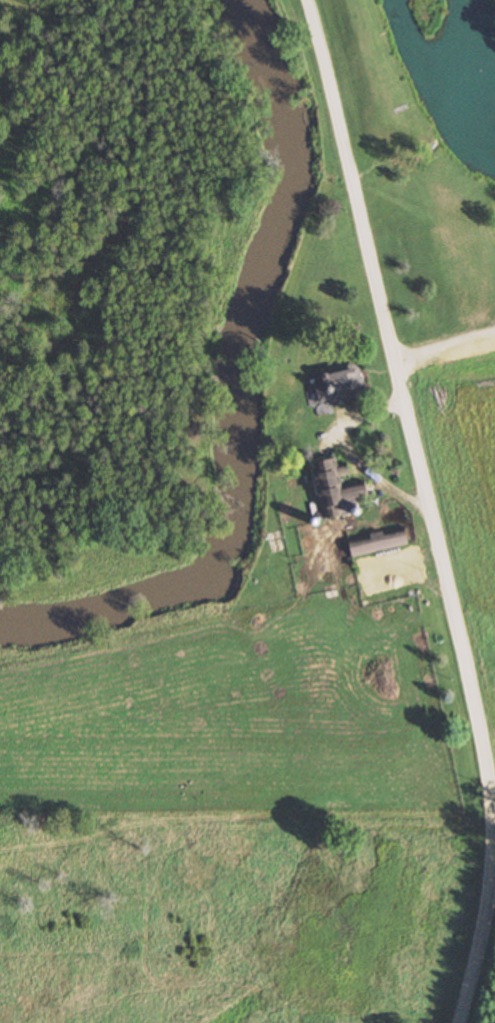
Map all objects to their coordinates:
building: (344, 386)
river: (245, 389)
building: (338, 487)
road: (429, 508)
building: (380, 541)

